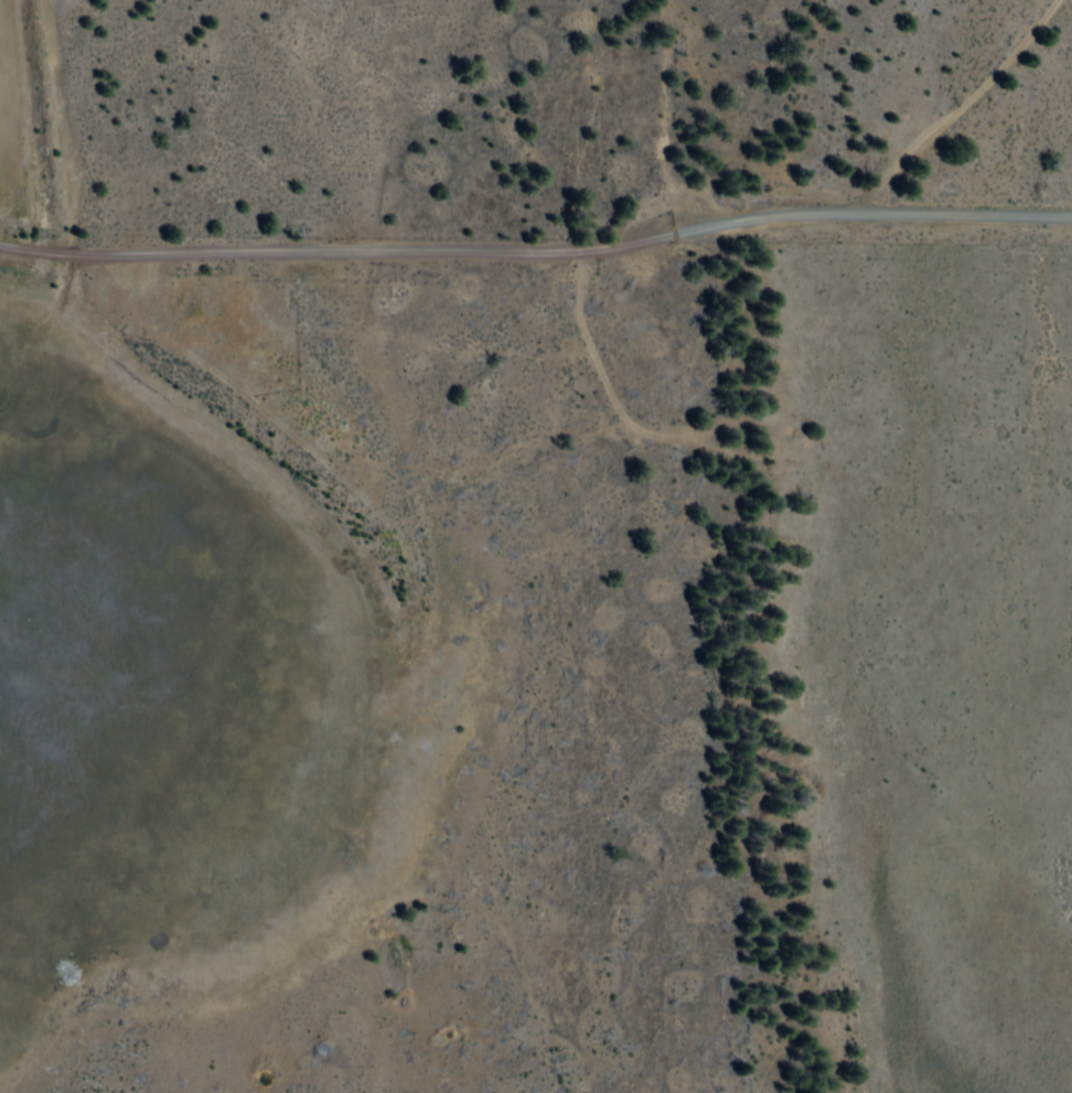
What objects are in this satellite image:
road: (960, 110)
road: (537, 253)
road: (802, 615)

